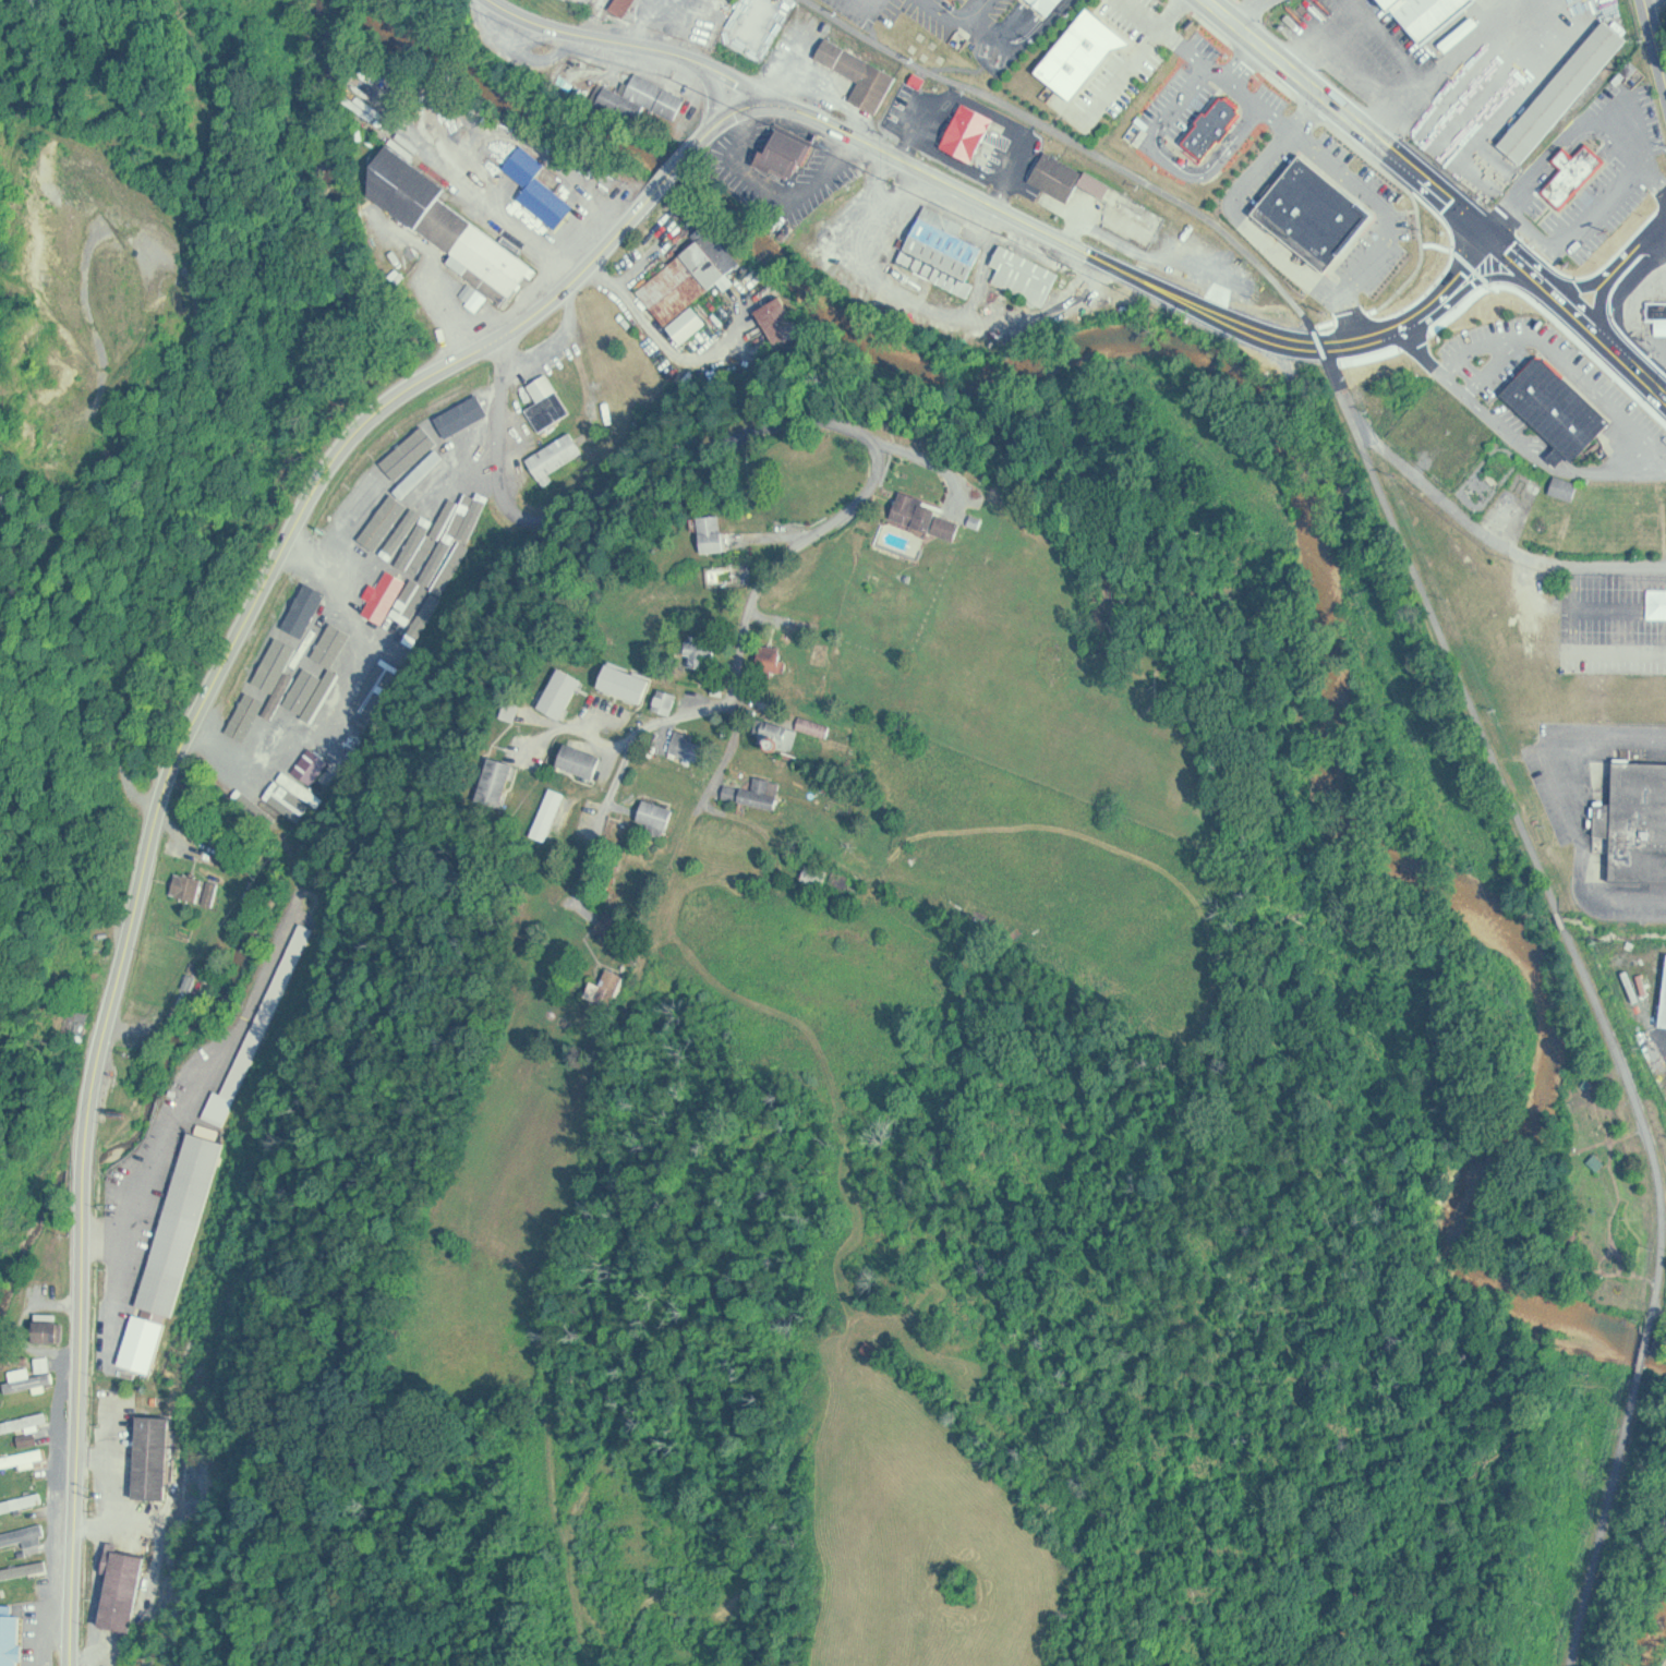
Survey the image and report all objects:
building: (1053, 0)
building: (628, 1)
road: (874, 5)
building: (1436, 10)
road: (1249, 12)
road: (959, 25)
building: (1088, 38)
road: (1655, 38)
road: (651, 41)
parking lot: (1376, 55)
building: (865, 61)
building: (921, 80)
building: (1567, 87)
building: (649, 89)
road: (717, 96)
road: (745, 108)
road: (1342, 113)
building: (1215, 124)
building: (971, 129)
building: (790, 138)
road: (699, 145)
building: (1061, 166)
road: (675, 173)
building: (1577, 173)
building: (541, 188)
building: (1226, 188)
building: (1321, 196)
building: (446, 219)
traffic signals: (1483, 228)
building: (1292, 234)
building: (947, 240)
road: (1073, 241)
road: (1633, 252)
road: (1460, 254)
road: (601, 257)
building: (1030, 263)
building: (692, 282)
road: (1581, 291)
building: (1361, 292)
road: (1578, 306)
road: (1599, 306)
building: (1658, 311)
road: (1400, 314)
building: (783, 321)
road: (1315, 333)
building: (1564, 396)
building: (550, 403)
road: (777, 434)
building: (558, 457)
building: (1567, 486)
road: (317, 492)
building: (929, 517)
river: (1315, 521)
building: (715, 532)
road: (1505, 553)
parking lot: (1615, 620)
building: (702, 652)
building: (774, 660)
building: (605, 669)
building: (667, 701)
building: (512, 709)
building: (794, 732)
building: (690, 743)
road: (179, 756)
building: (582, 760)
road: (620, 775)
building: (497, 782)
building: (764, 793)
parking lot: (1608, 808)
building: (659, 817)
building: (1637, 819)
building: (861, 857)
building: (819, 873)
building: (850, 882)
building: (198, 889)
road: (1561, 914)
building: (614, 928)
building: (98, 955)
building: (613, 983)
building: (1665, 1021)
building: (80, 1023)
building: (263, 1029)
road: (1626, 1062)
road: (1601, 1113)
road: (1645, 1171)
road: (1637, 1190)
park: (1584, 1198)
road: (1499, 1205)
road: (85, 1208)
road: (1611, 1219)
road: (1637, 1222)
building: (184, 1223)
road: (1661, 1283)
building: (51, 1330)
building: (146, 1342)
road: (1649, 1350)
building: (46, 1362)
building: (31, 1379)
building: (25, 1422)
building: (155, 1456)
building: (23, 1458)
building: (22, 1501)
road: (1603, 1525)
building: (23, 1534)
building: (22, 1568)
building: (125, 1589)
building: (11, 1638)
river: (1650, 1644)

